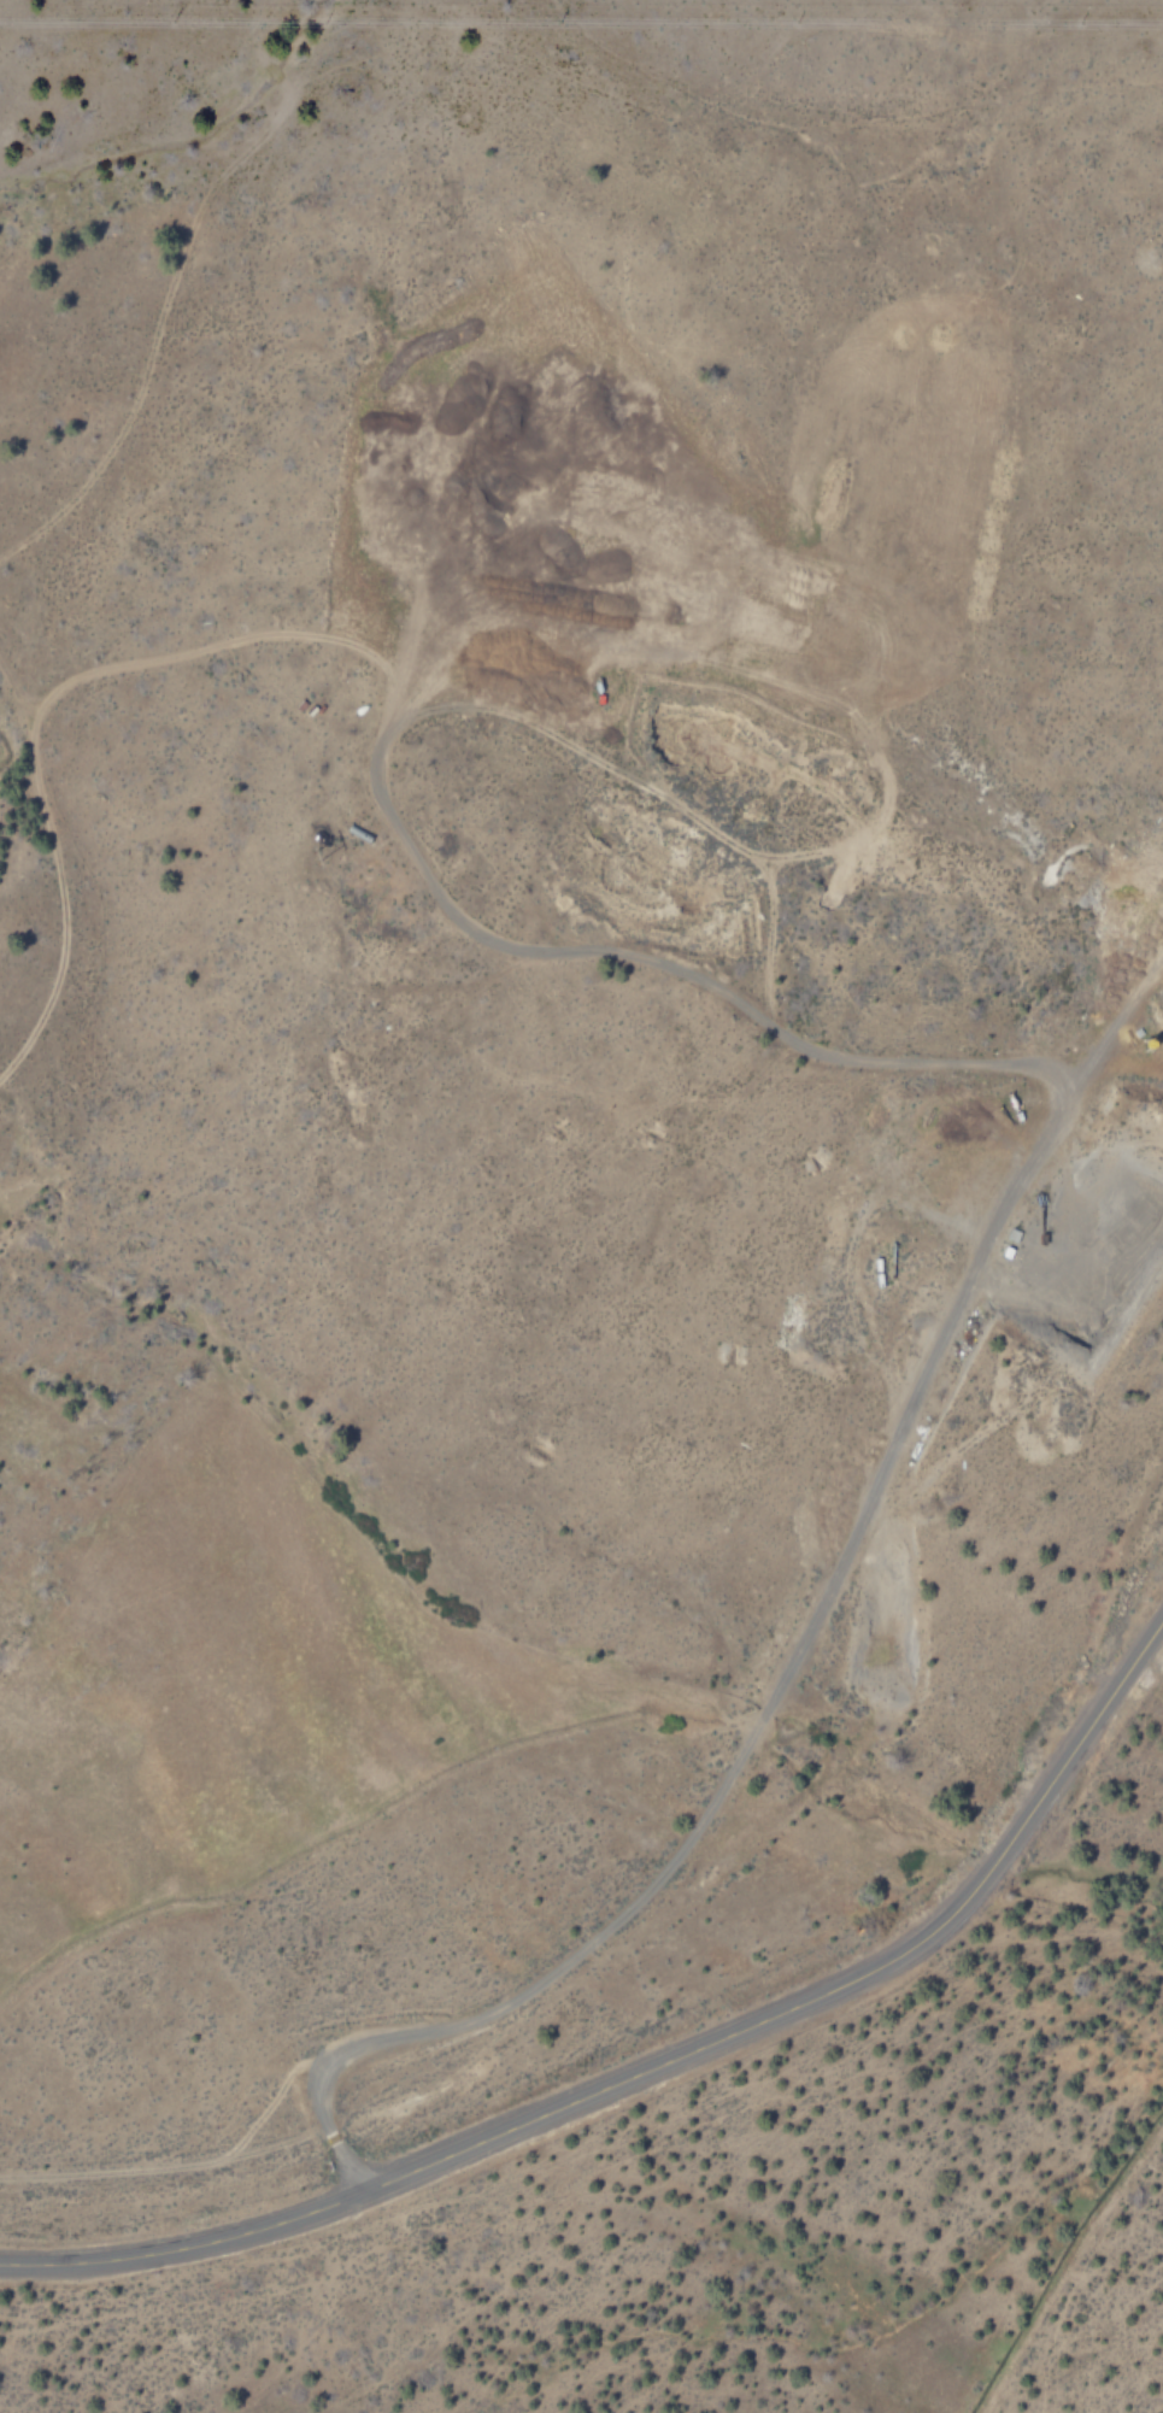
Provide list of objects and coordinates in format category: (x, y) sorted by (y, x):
road: (793, 1645)
road: (659, 2063)

